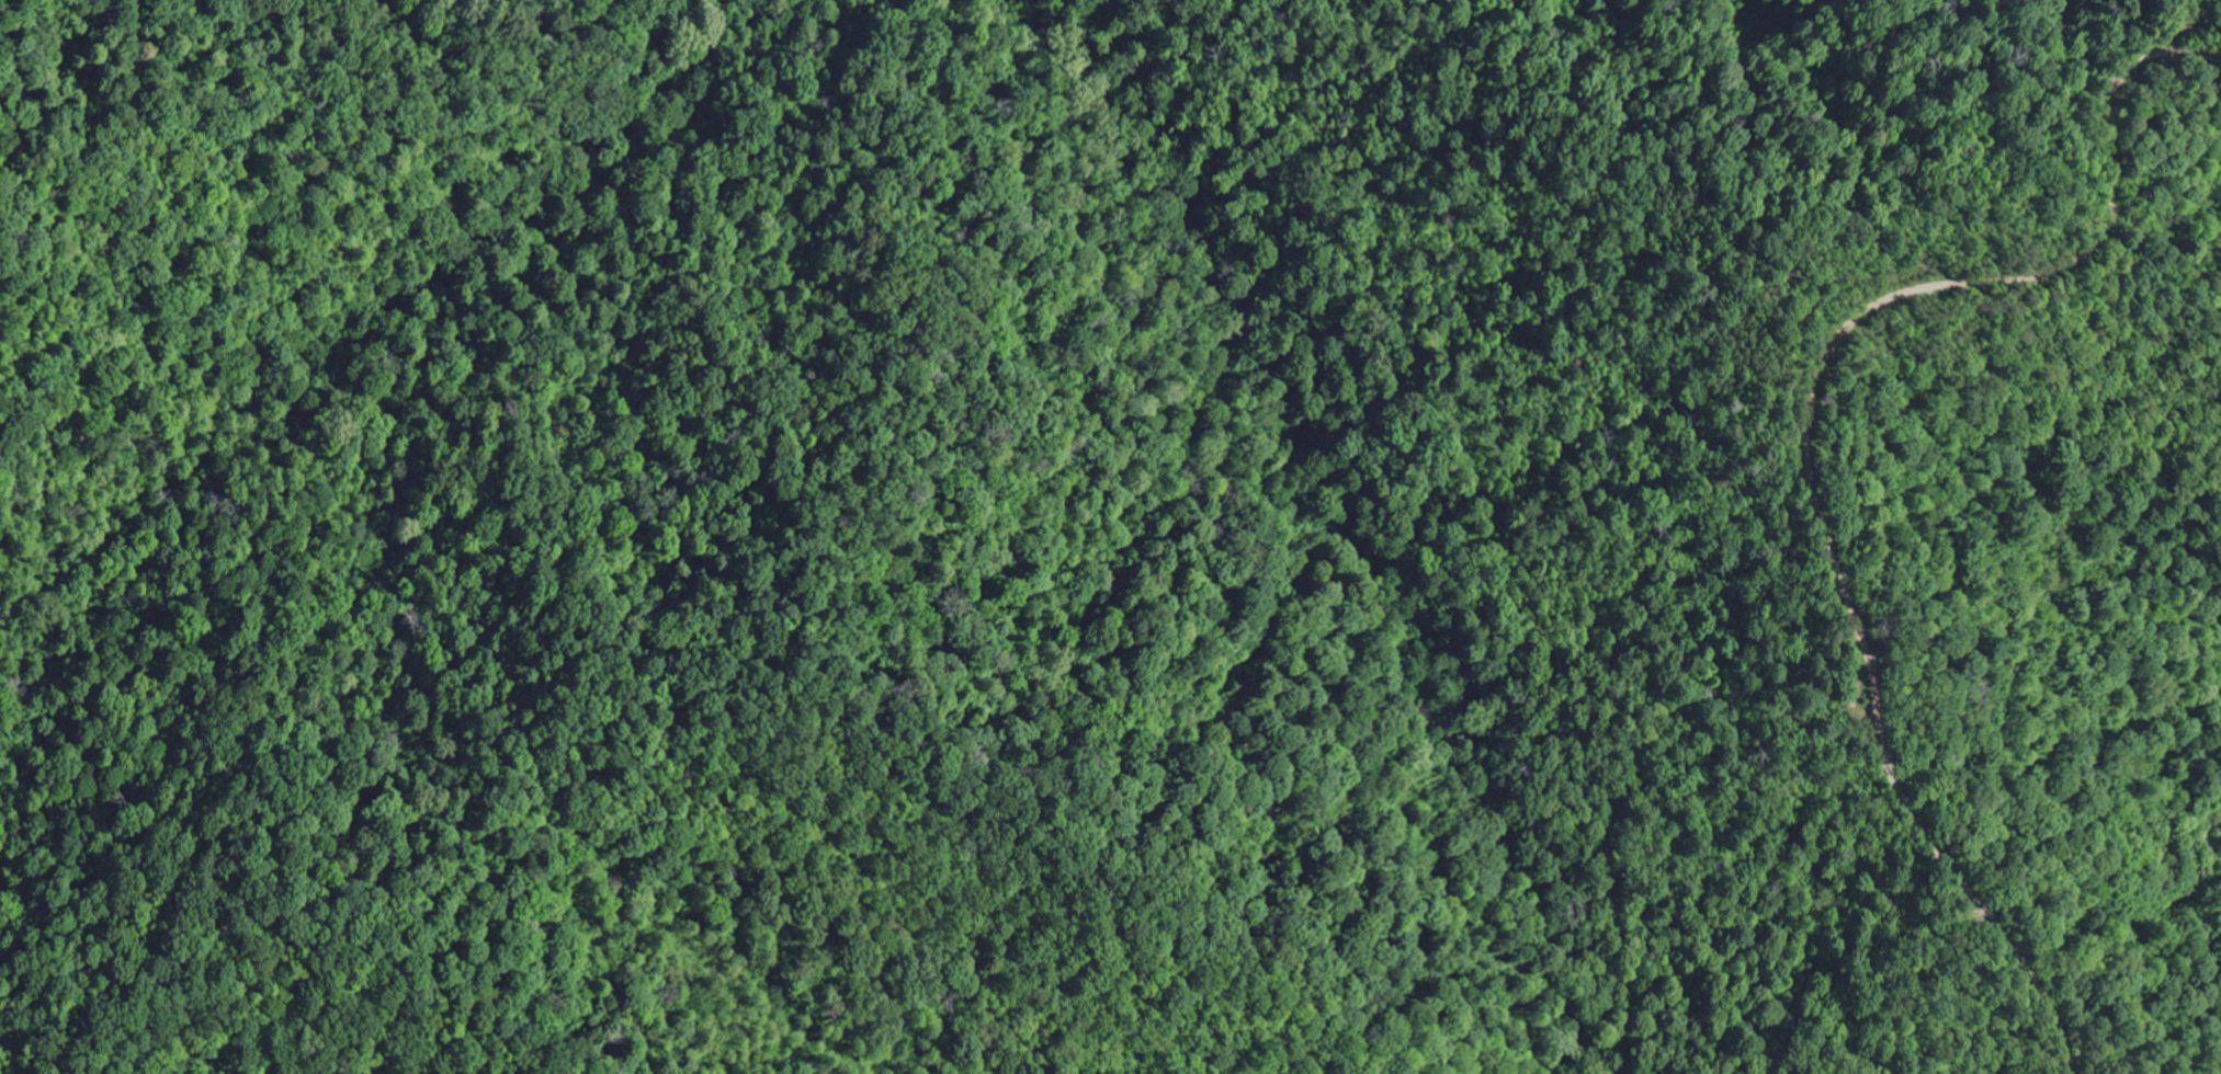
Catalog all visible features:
road: (1806, 457)

